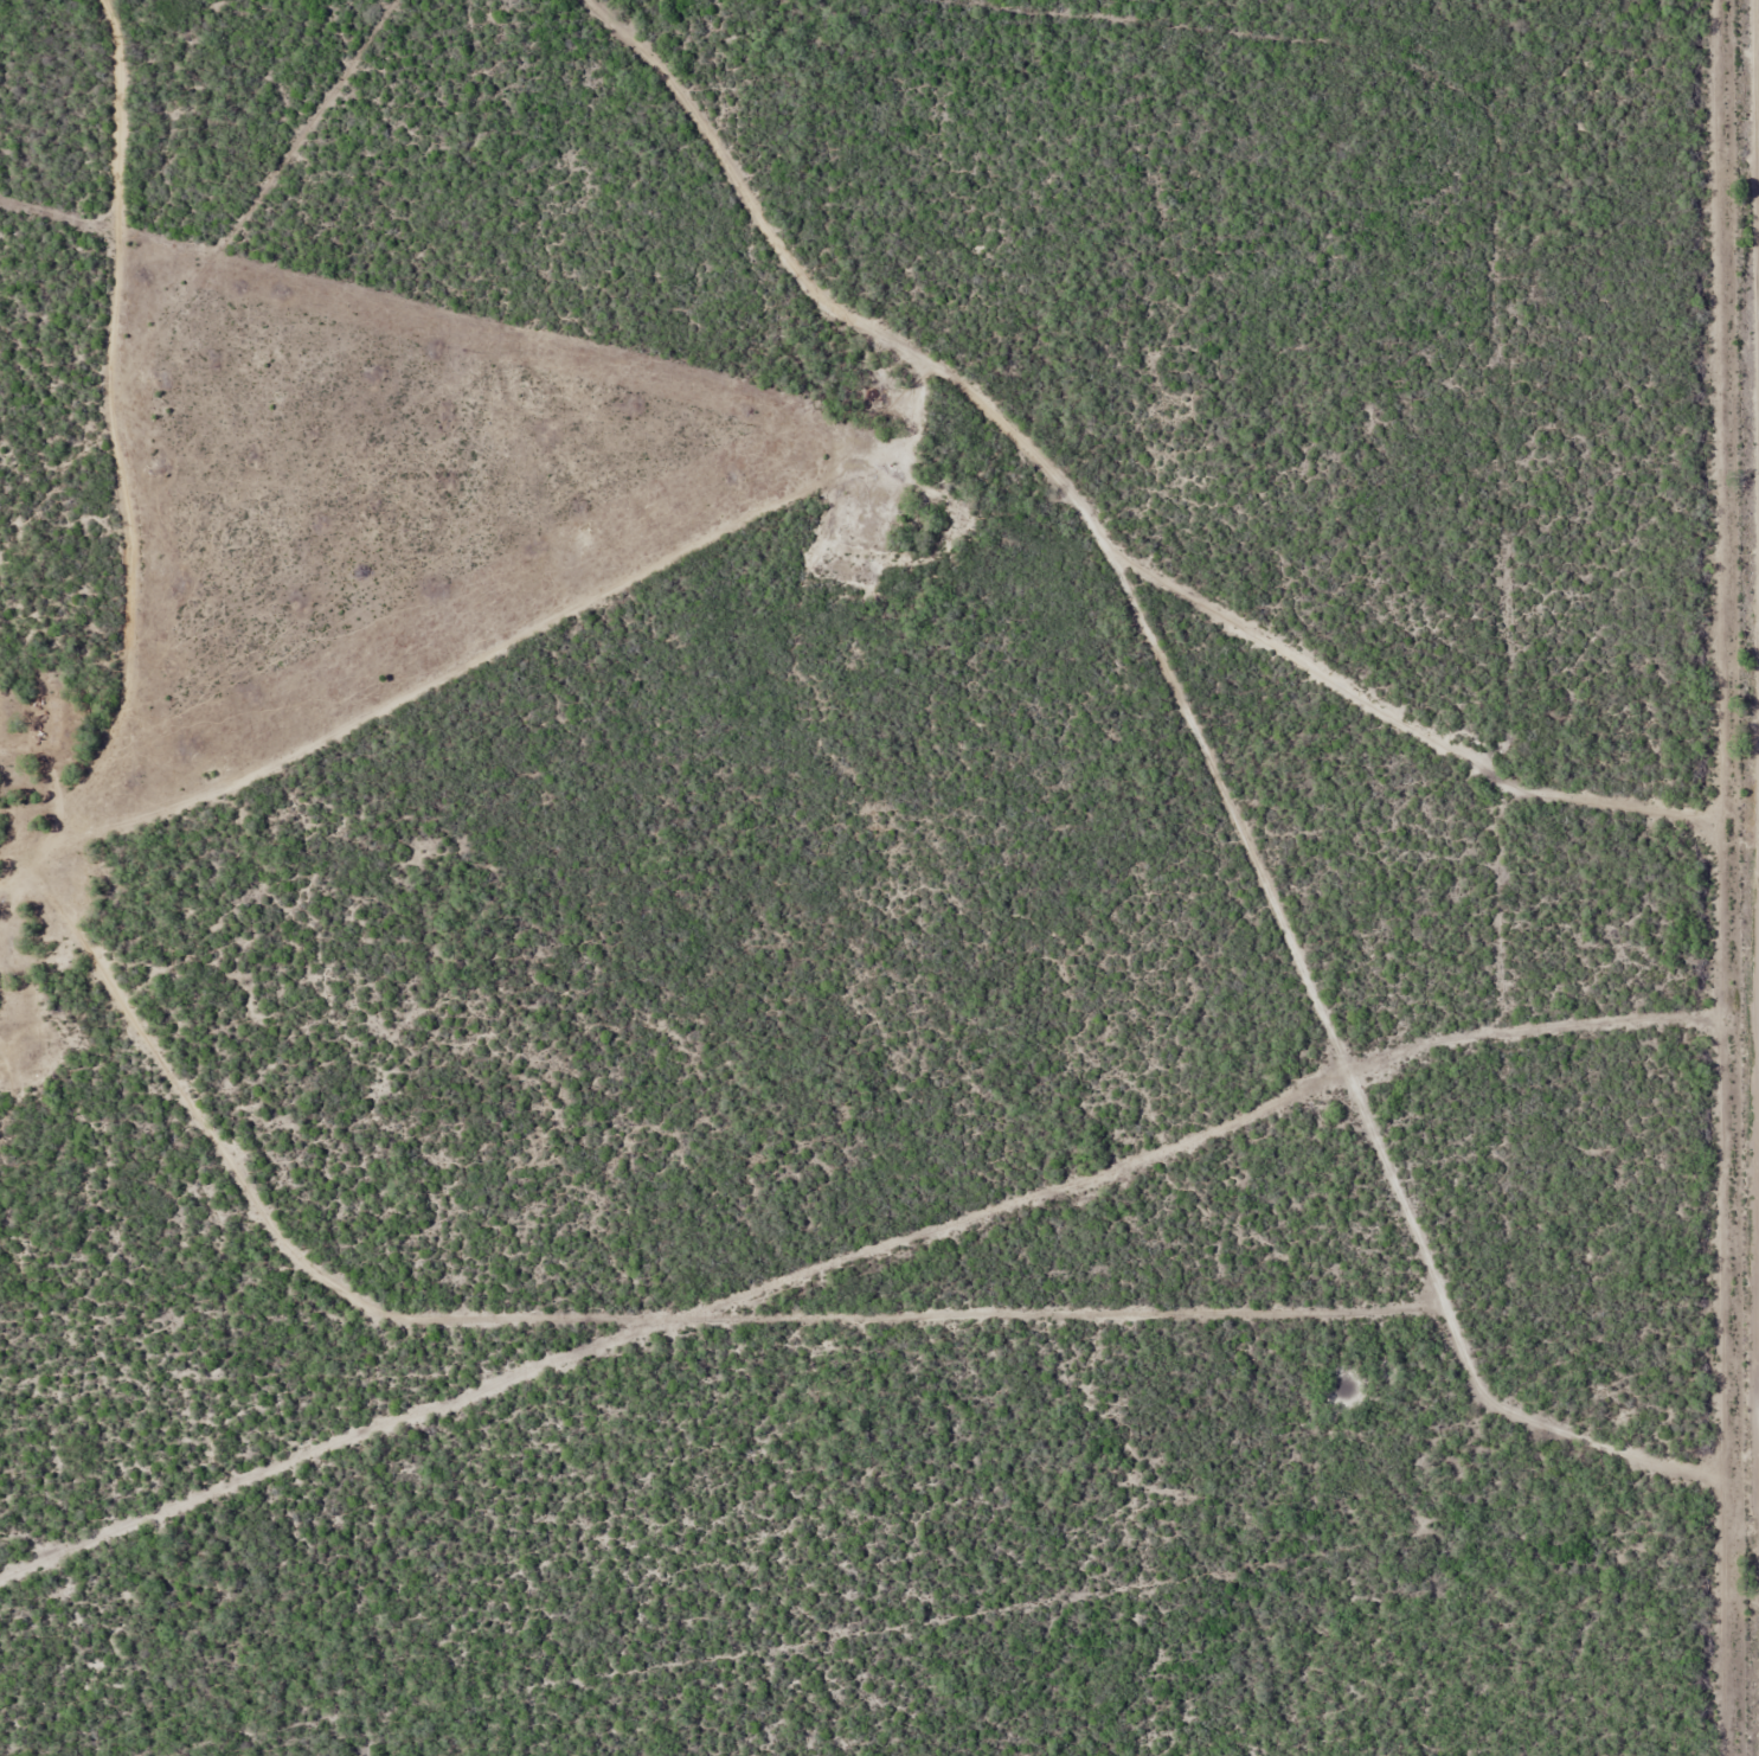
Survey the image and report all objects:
road: (617, 25)
road: (685, 25)
road: (1527, 380)
road: (124, 454)
road: (1149, 649)

